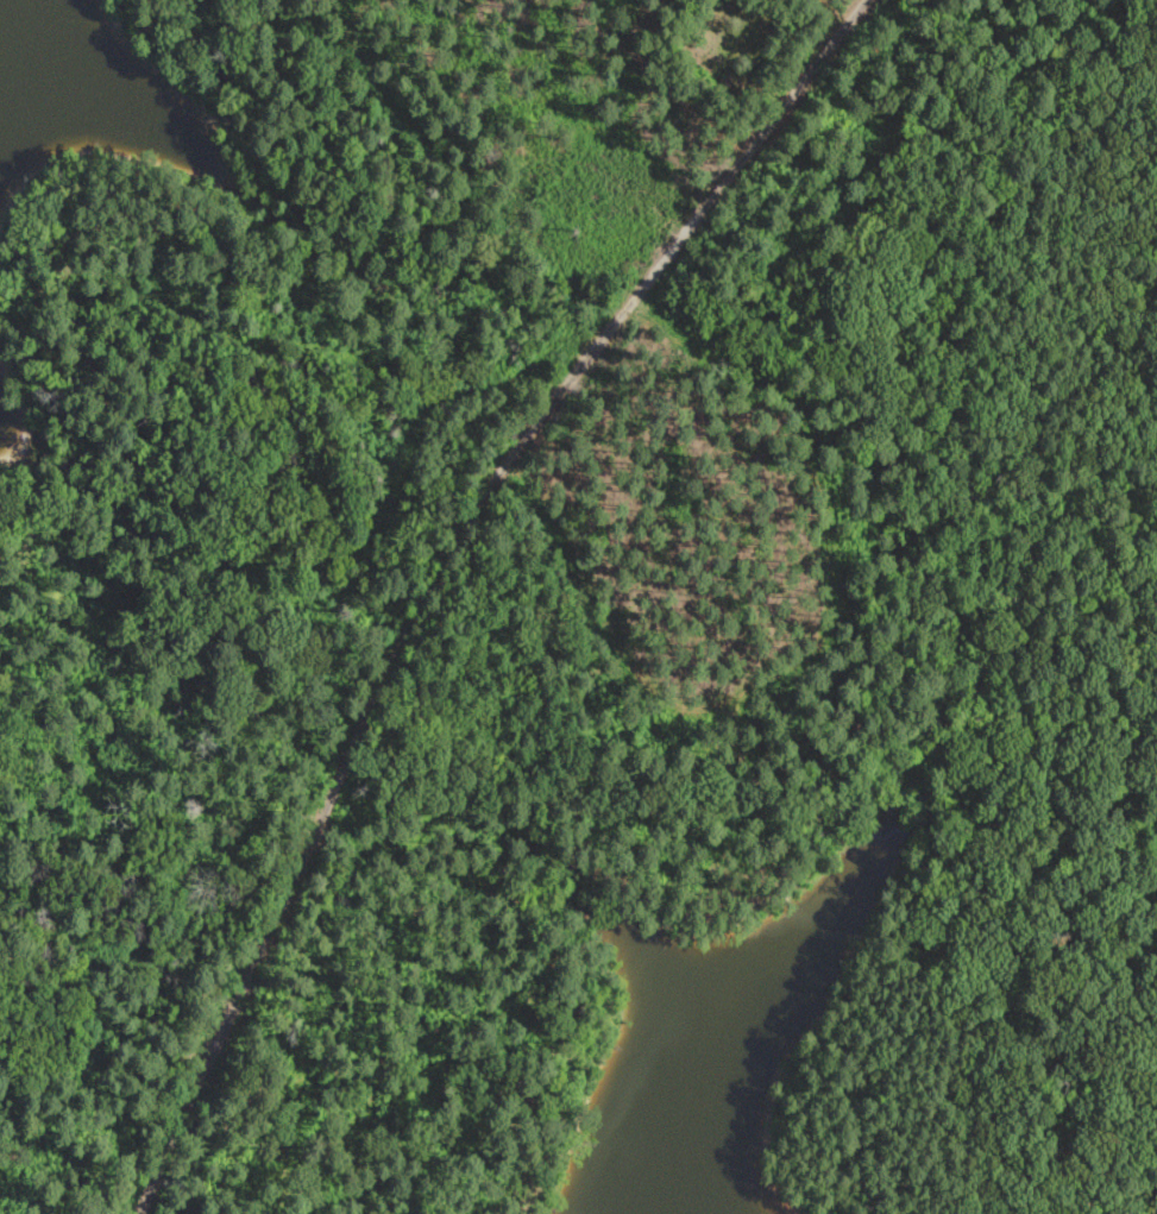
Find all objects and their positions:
road: (436, 566)

